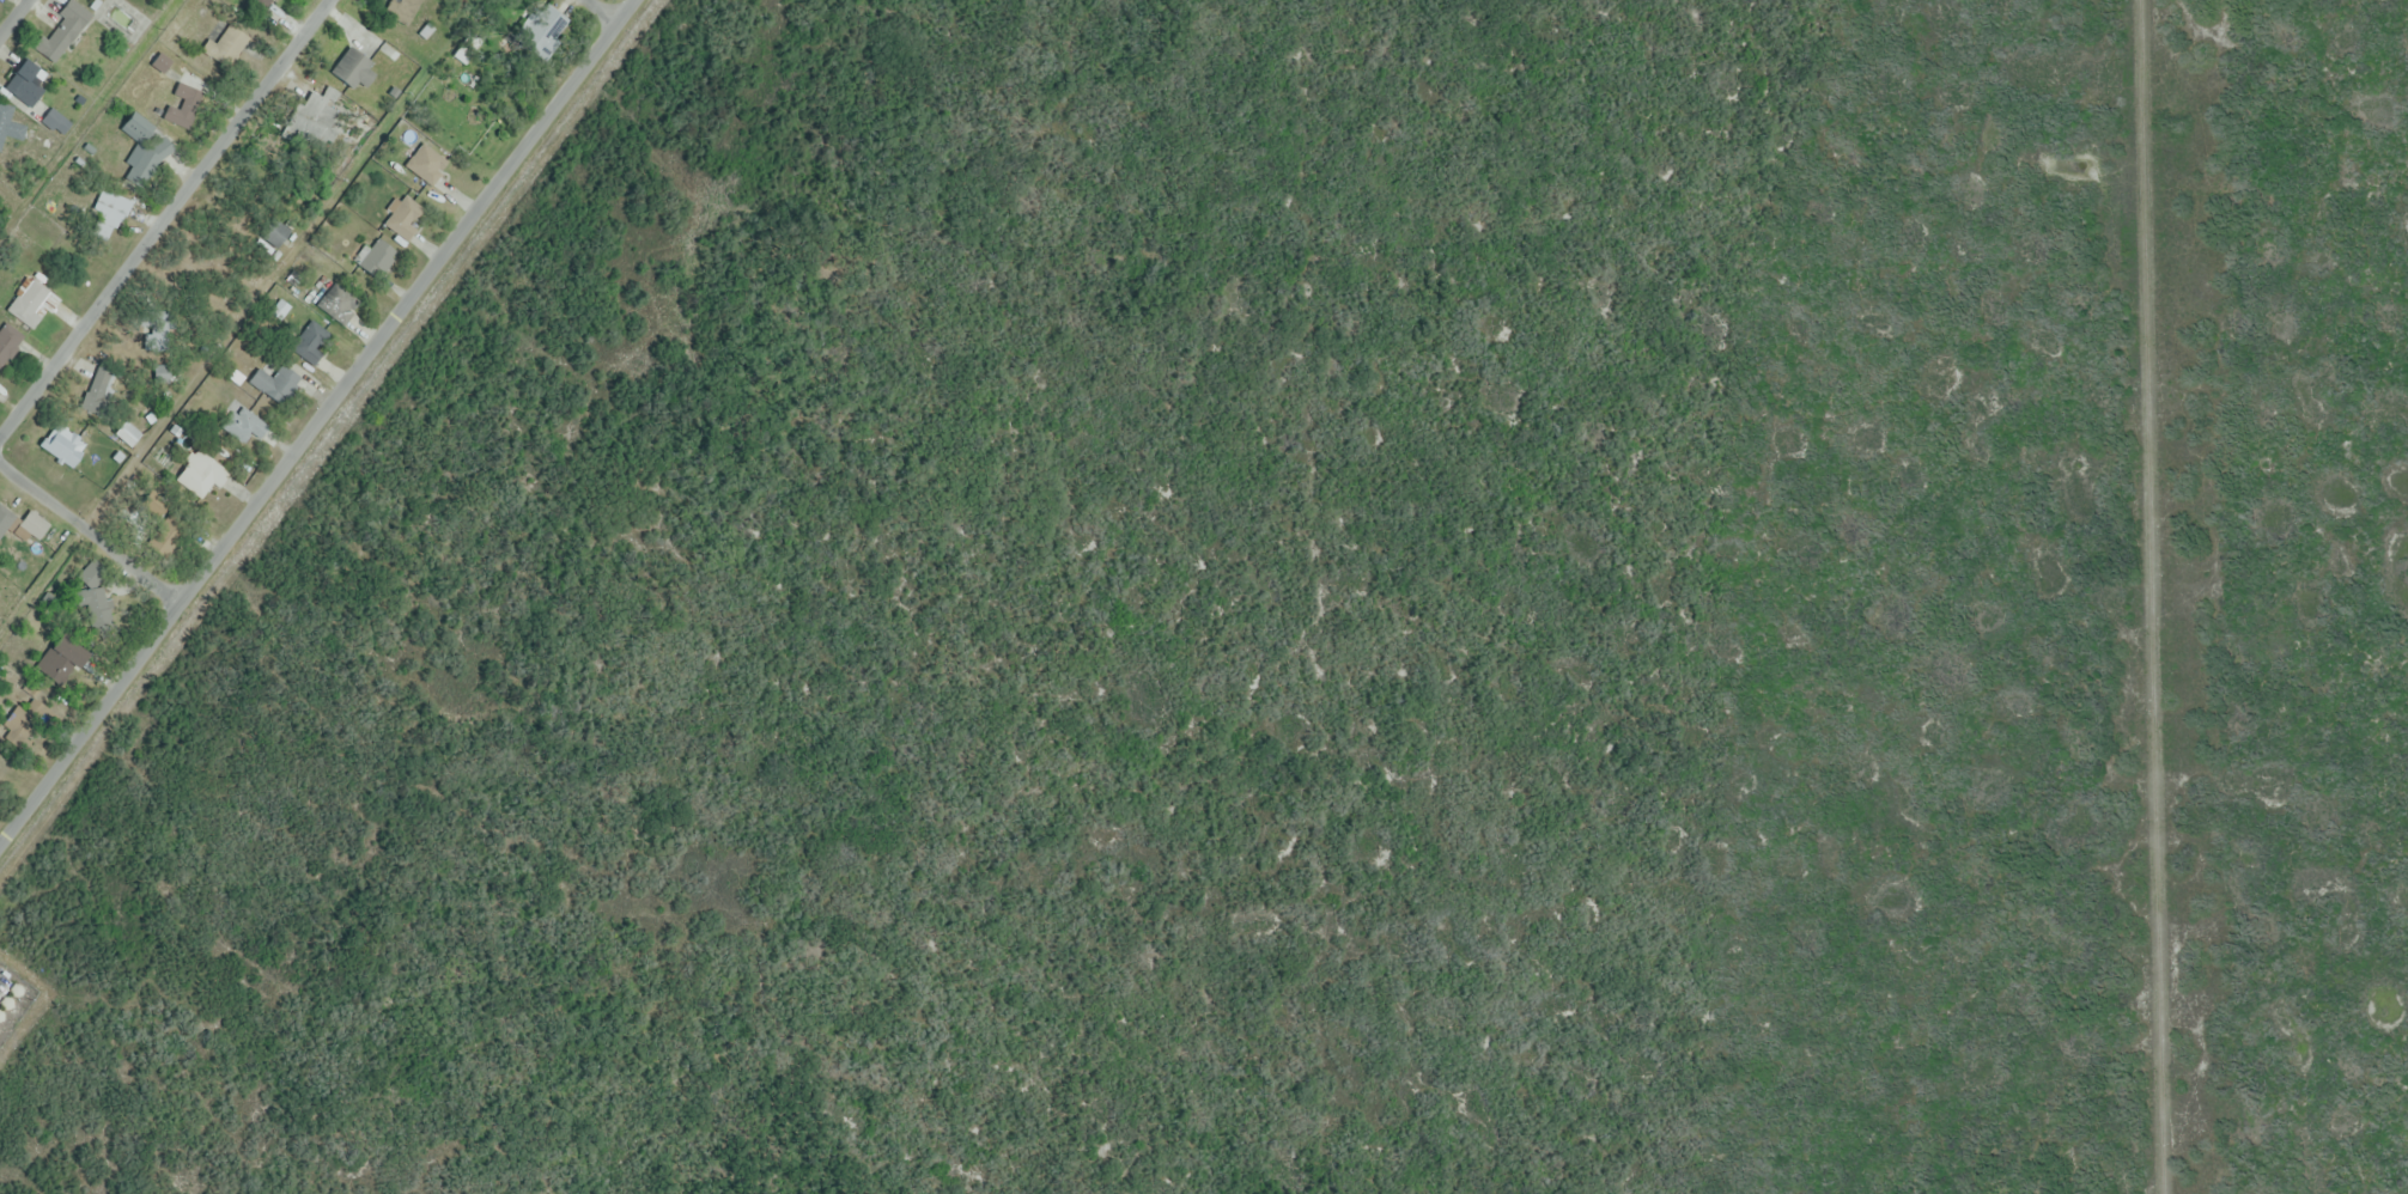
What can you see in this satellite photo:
building: (264, 1)
building: (400, 10)
road: (604, 10)
road: (12, 16)
building: (61, 29)
building: (551, 30)
building: (226, 42)
building: (353, 68)
building: (26, 80)
building: (182, 103)
building: (315, 116)
building: (10, 124)
building: (142, 147)
building: (425, 162)
building: (107, 214)
building: (402, 217)
road: (164, 219)
building: (274, 229)
building: (376, 256)
building: (29, 300)
building: (338, 301)
road: (226, 340)
building: (8, 341)
building: (311, 341)
building: (166, 371)
building: (281, 384)
building: (96, 389)
road: (316, 421)
building: (243, 425)
building: (127, 433)
building: (200, 473)
building: (5, 519)
building: (34, 524)
road: (90, 532)
building: (95, 599)
building: (61, 656)

